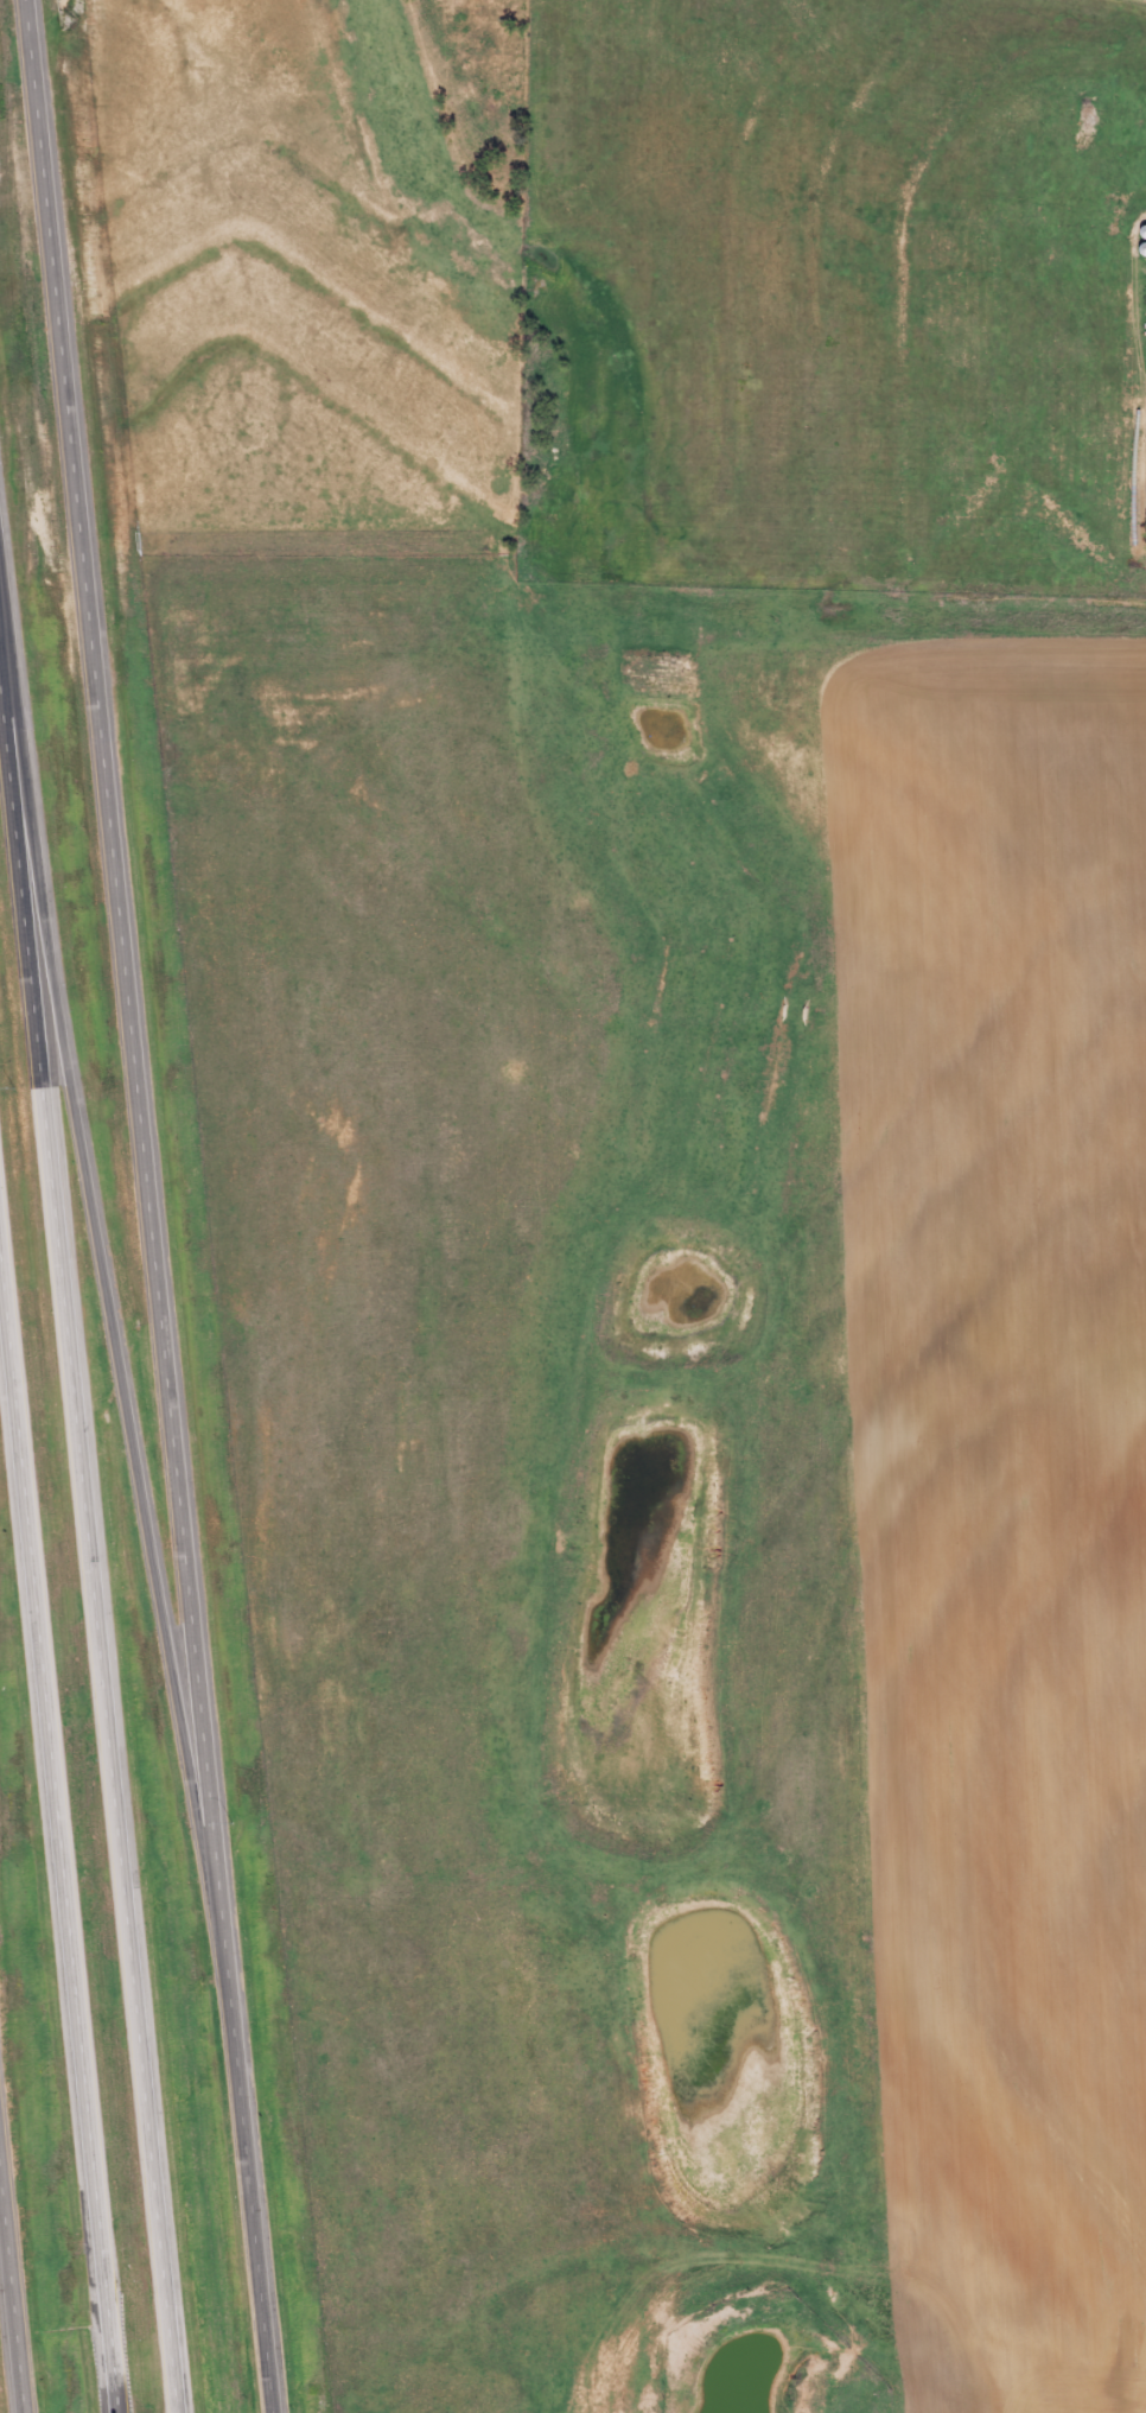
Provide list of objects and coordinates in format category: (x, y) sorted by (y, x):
railway: (573, 990)
road: (149, 1206)
road: (104, 1277)
road: (89, 1545)
road: (53, 1853)
road: (11, 2306)

